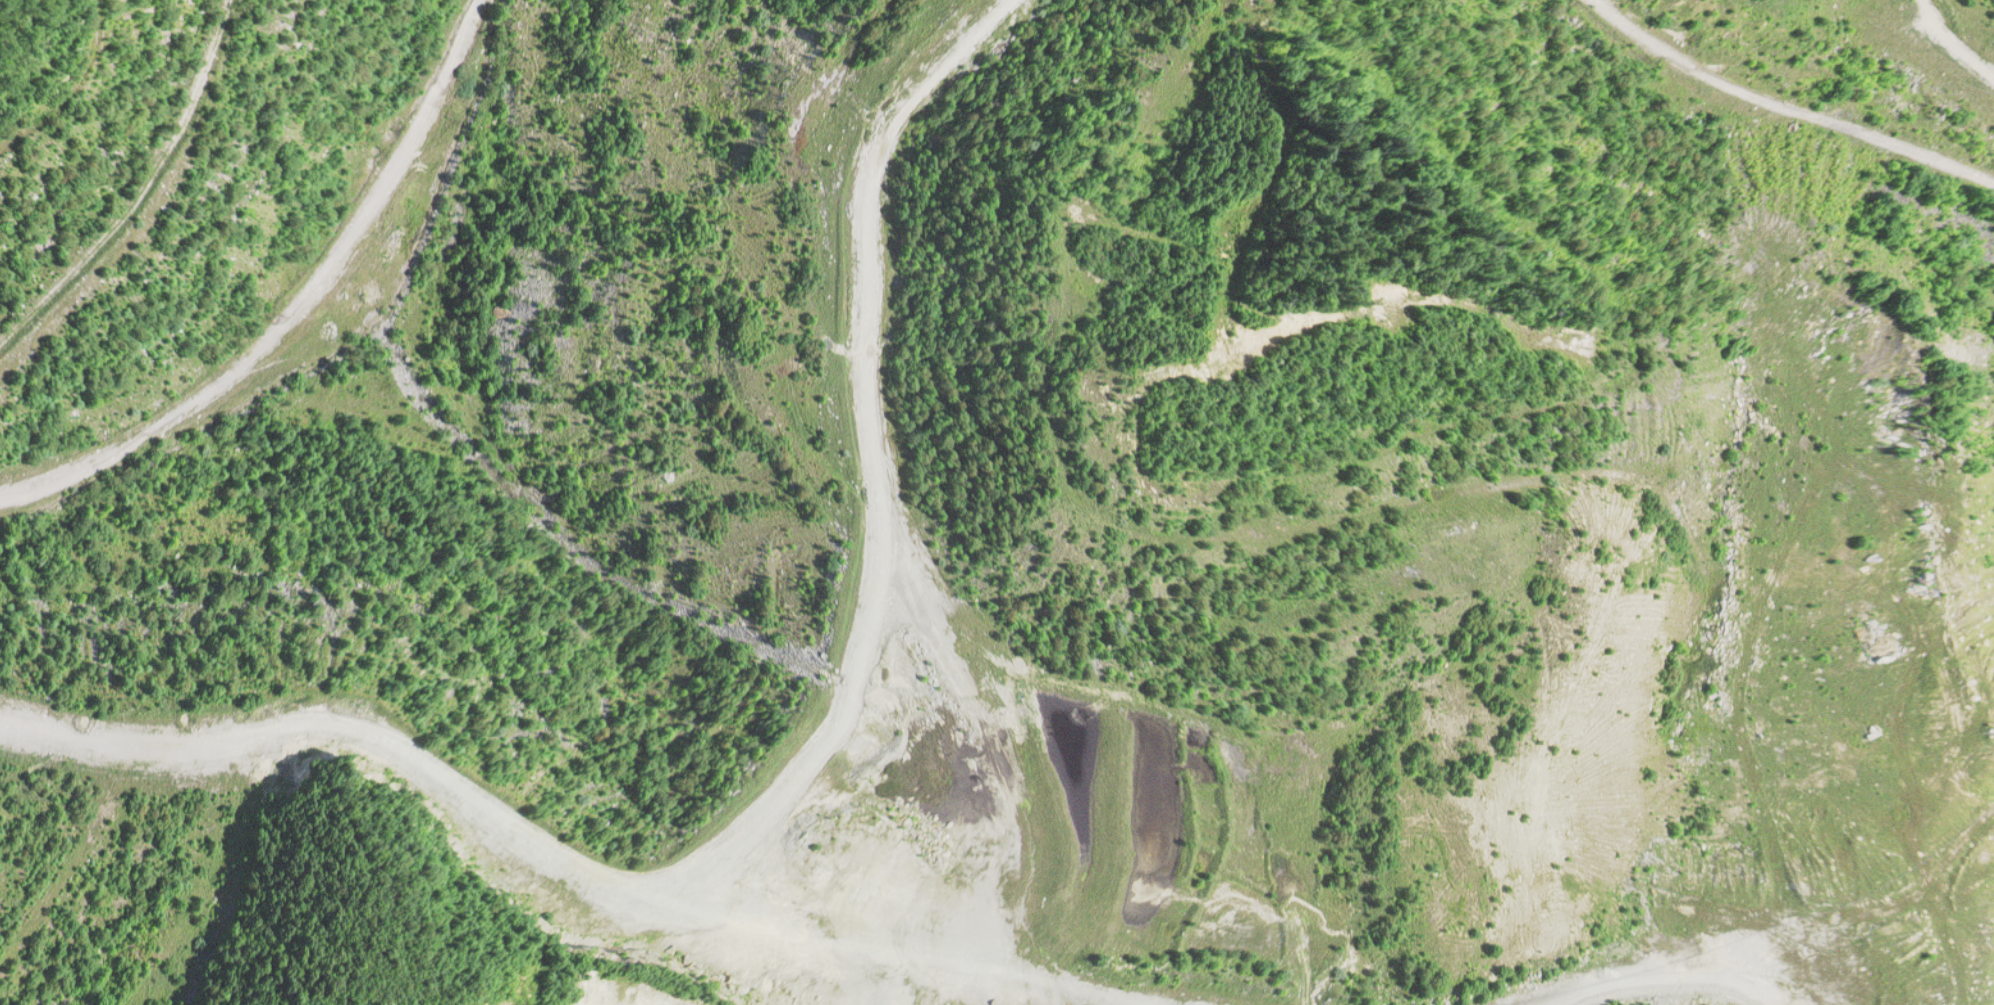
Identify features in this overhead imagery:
quarry: (997, 502)

